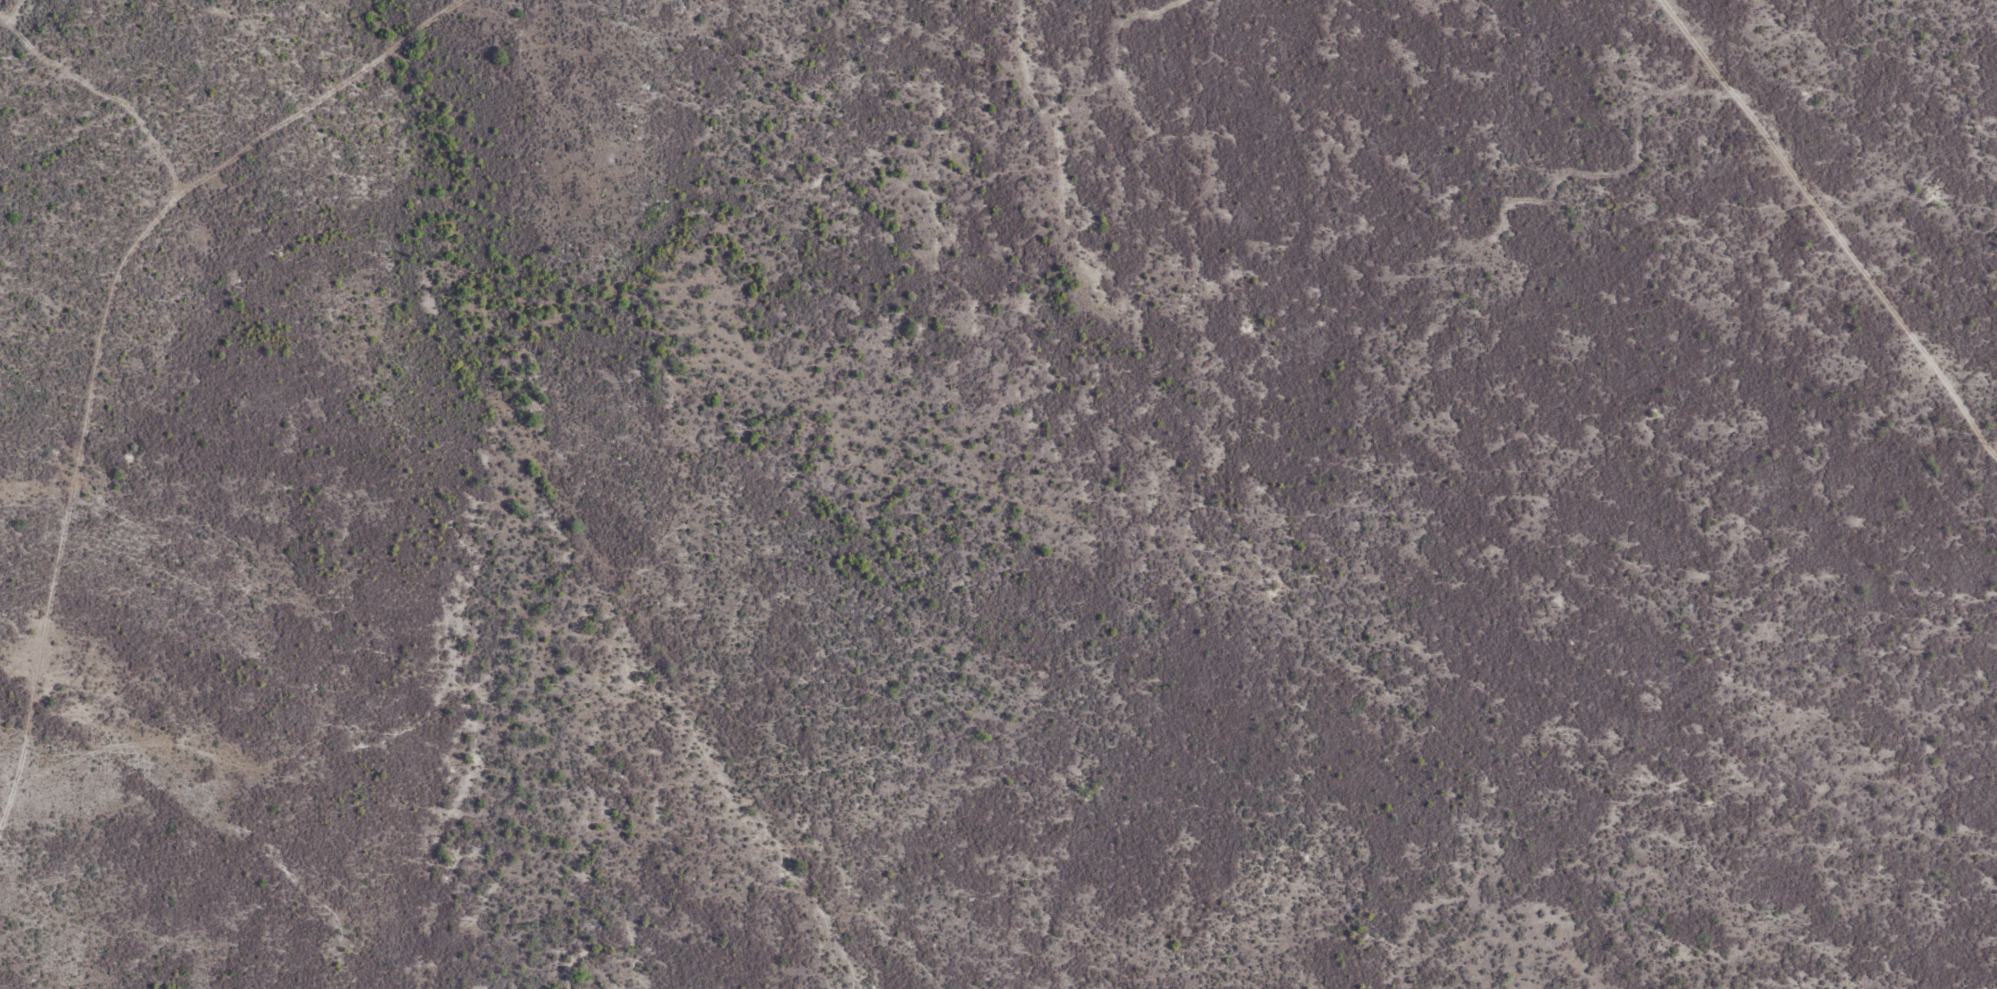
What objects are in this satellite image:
power tower: (1768, 144)
power tower: (1991, 444)

